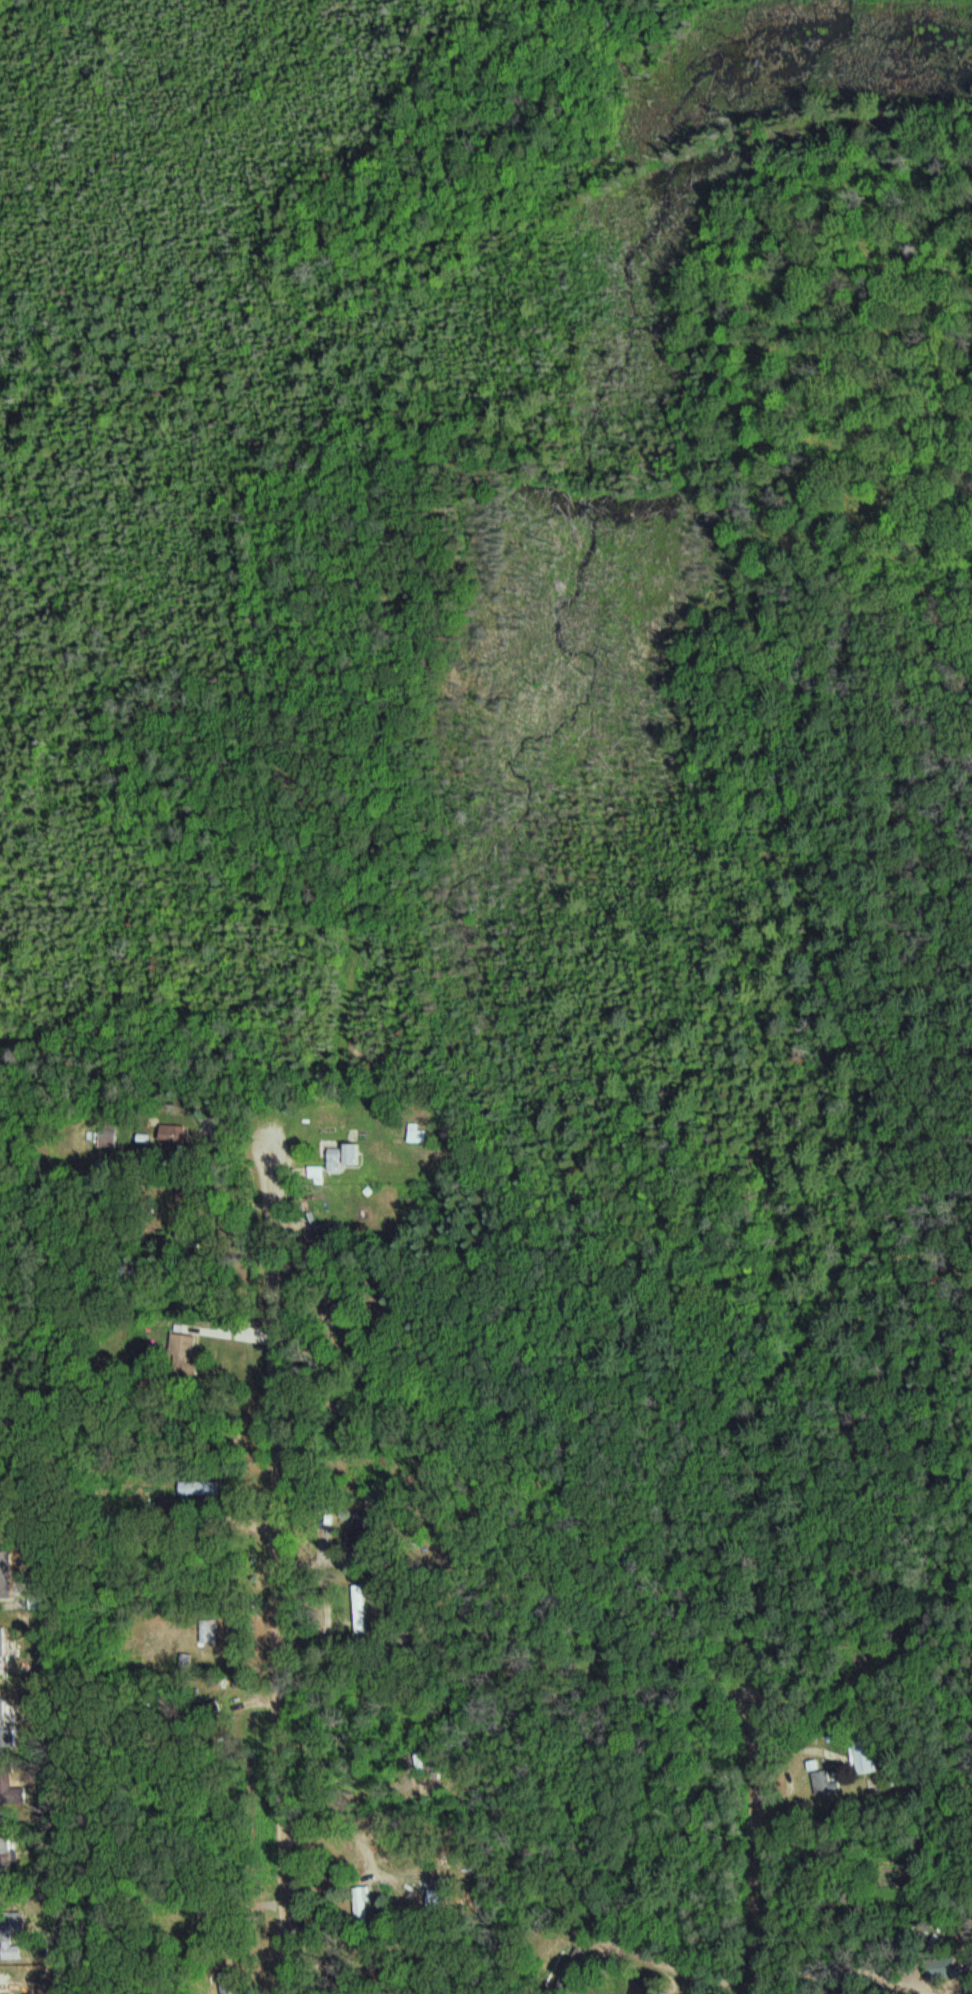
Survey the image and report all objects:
building: (176, 1134)
building: (420, 1134)
building: (111, 1135)
building: (345, 1154)
building: (185, 1344)
building: (201, 1487)
road: (277, 1611)
building: (866, 1755)
road: (763, 1874)
building: (363, 1904)
building: (226, 1983)
building: (668, 1993)

